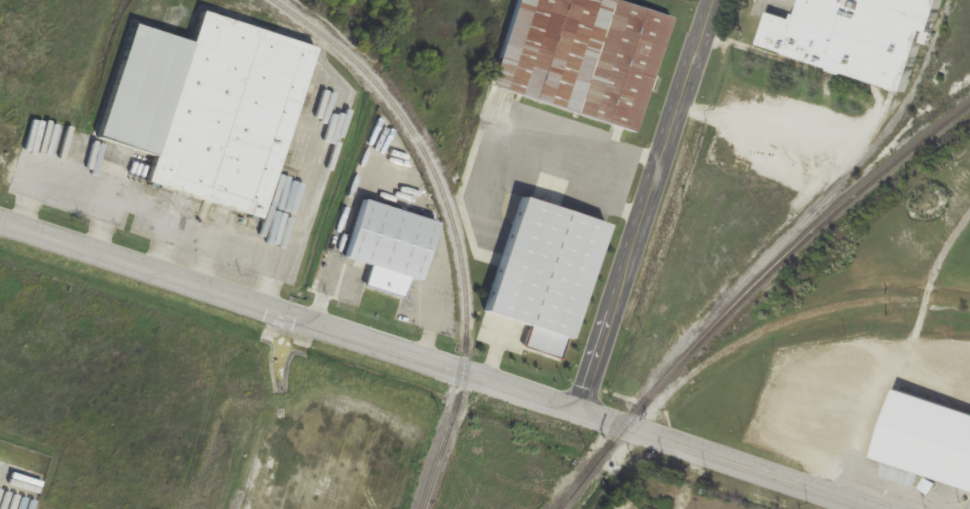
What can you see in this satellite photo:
building: (855, 37)
building: (578, 58)
road: (726, 78)
building: (206, 108)
road: (874, 115)
road: (648, 206)
railway: (454, 223)
building: (388, 246)
railway: (785, 253)
railway: (794, 320)
road: (435, 365)
building: (937, 427)
railway: (596, 468)
road: (10, 483)

